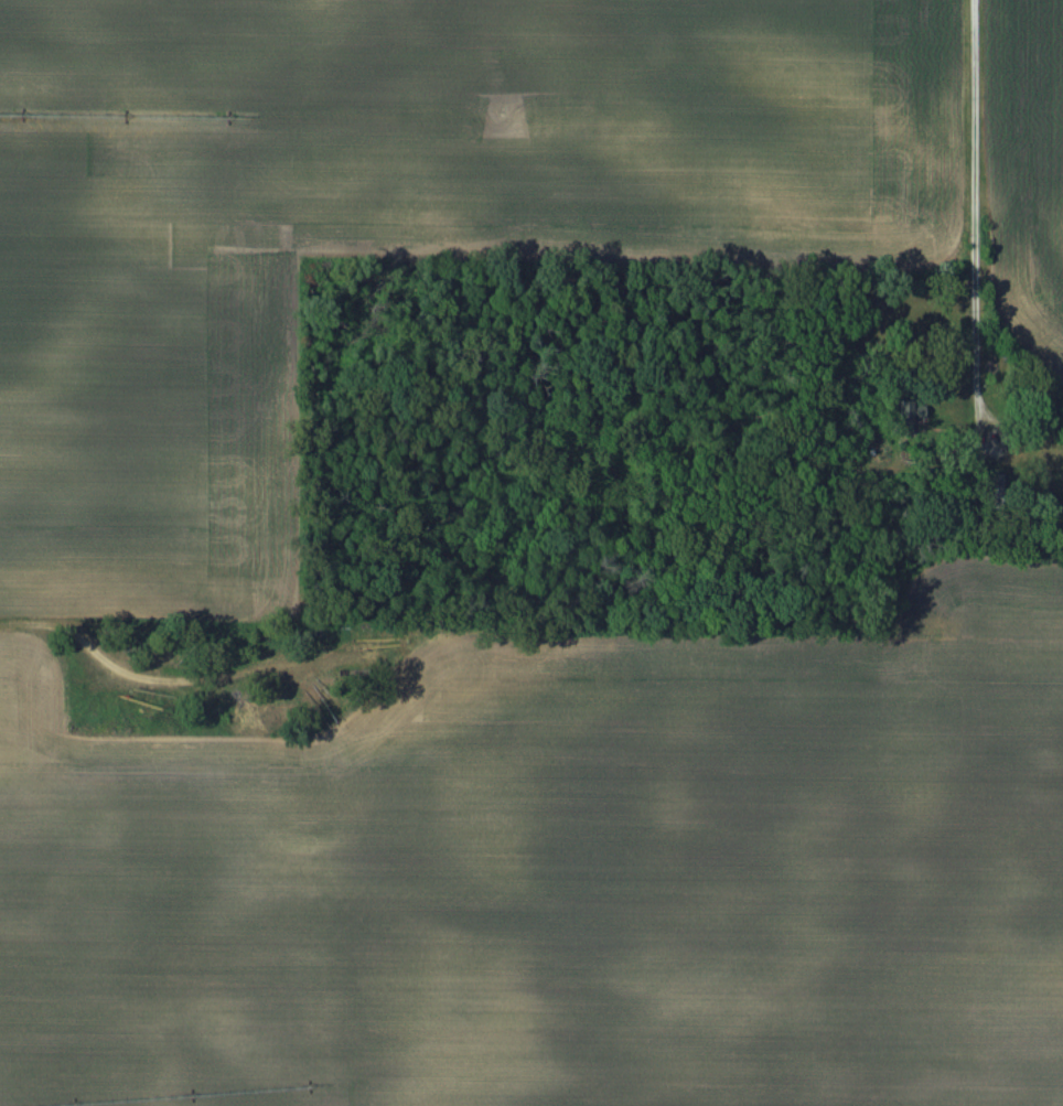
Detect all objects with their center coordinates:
road: (973, 228)
building: (906, 417)

